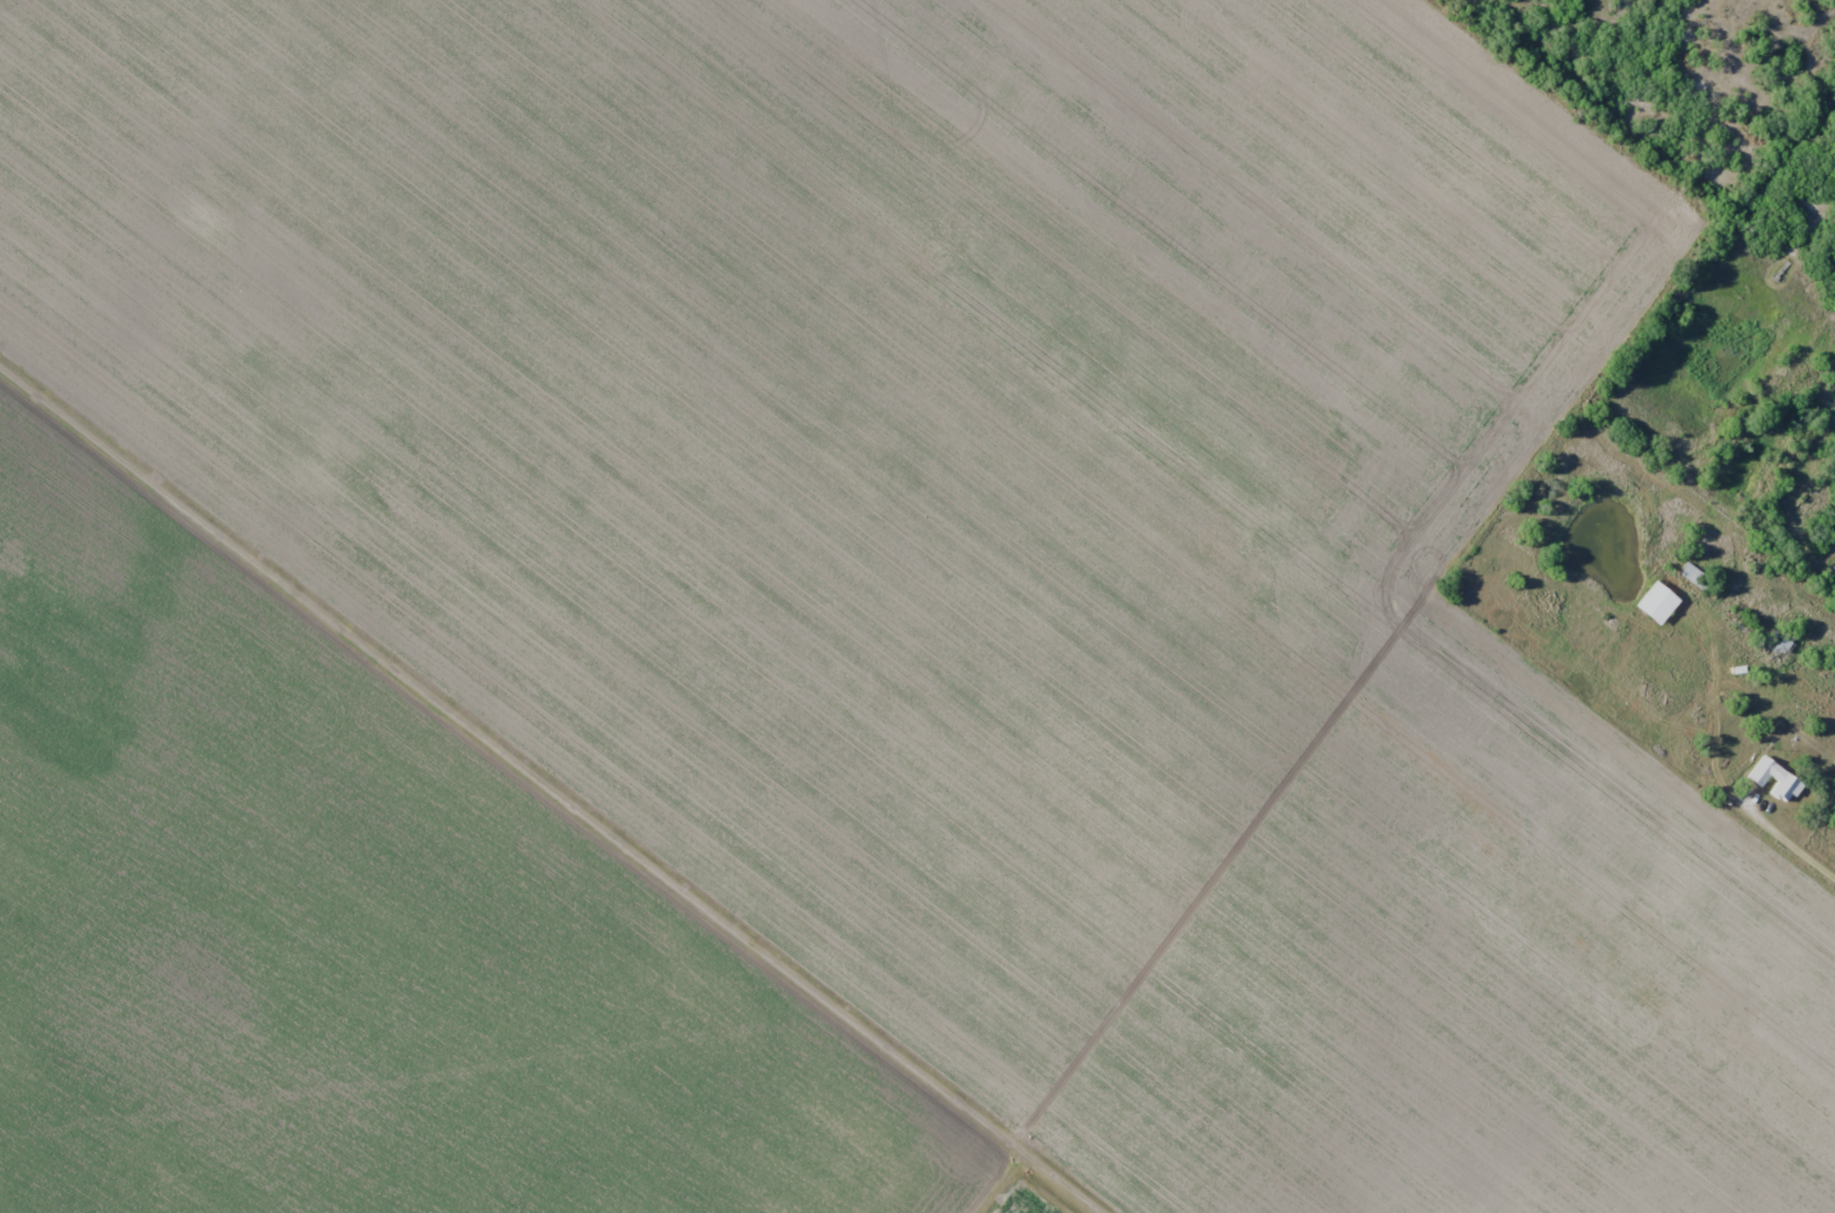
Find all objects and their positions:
building: (1653, 603)
building: (1775, 648)
building: (1772, 780)
road: (553, 789)

